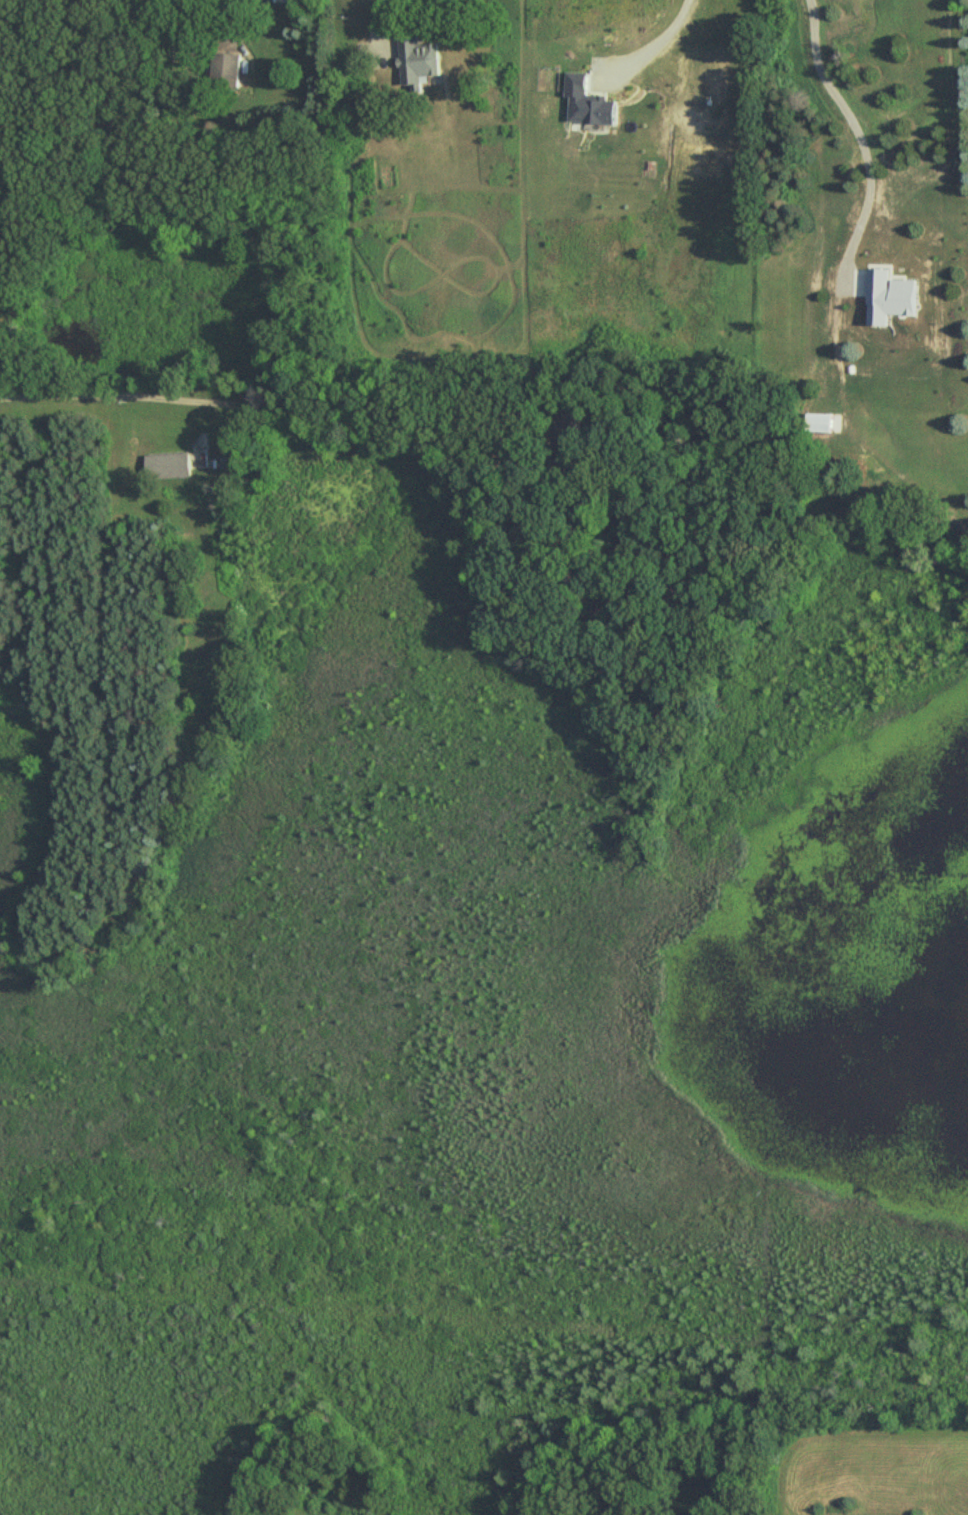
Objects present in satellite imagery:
road: (378, 19)
road: (656, 39)
building: (422, 62)
building: (226, 68)
road: (78, 98)
building: (585, 102)
road: (129, 393)
building: (818, 423)
building: (171, 467)
crop: (873, 1471)

